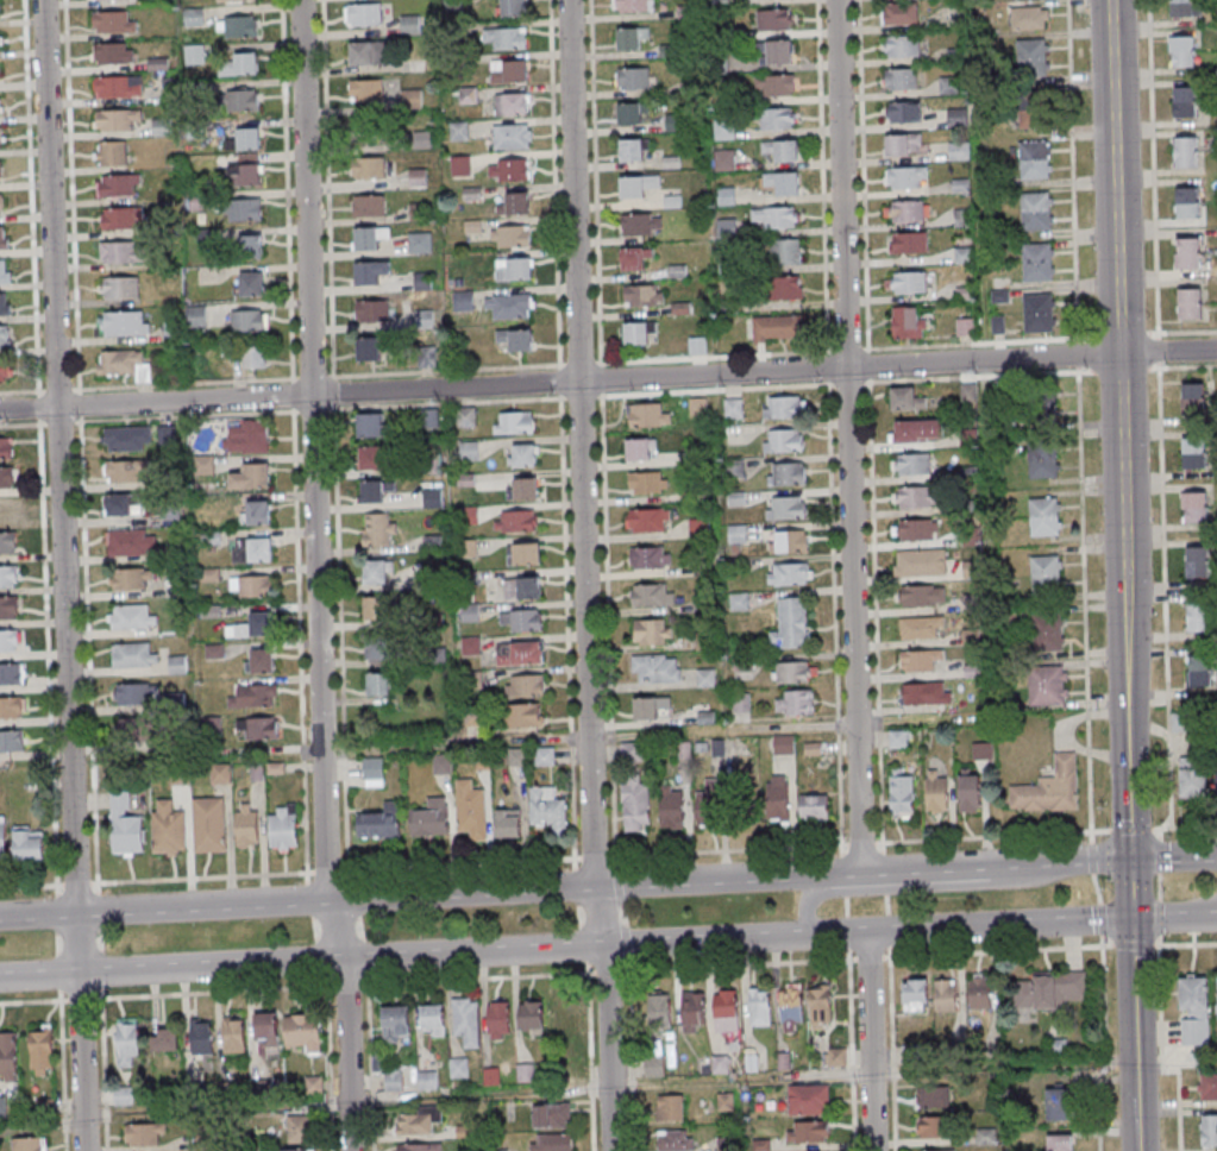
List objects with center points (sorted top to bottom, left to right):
building: (237, 0)
building: (633, 5)
building: (512, 7)
building: (720, 8)
building: (1183, 8)
building: (684, 11)
building: (901, 13)
building: (364, 15)
building: (193, 17)
building: (1029, 19)
building: (774, 20)
building: (114, 21)
building: (409, 25)
building: (238, 27)
building: (504, 38)
building: (631, 38)
building: (0, 40)
building: (902, 46)
building: (1181, 51)
building: (113, 52)
building: (194, 54)
building: (369, 54)
building: (774, 54)
building: (1033, 57)
building: (239, 64)
building: (509, 70)
building: (632, 78)
building: (901, 80)
building: (119, 86)
building: (774, 87)
building: (949, 87)
building: (366, 92)
building: (241, 101)
building: (1185, 102)
building: (512, 103)
building: (0, 106)
building: (1033, 108)
building: (631, 113)
building: (905, 113)
building: (956, 118)
building: (117, 119)
building: (776, 120)
building: (162, 126)
building: (724, 130)
building: (370, 133)
building: (0, 137)
building: (512, 137)
building: (247, 139)
building: (903, 145)
building: (632, 150)
building: (782, 152)
building: (959, 152)
building: (1186, 152)
building: (112, 153)
building: (724, 159)
building: (1035, 159)
building: (462, 165)
building: (369, 168)
building: (509, 169)
road: (1152, 169)
building: (1, 171)
building: (244, 175)
building: (905, 178)
building: (120, 184)
building: (636, 184)
building: (779, 184)
building: (1187, 201)
building: (514, 203)
building: (368, 205)
building: (244, 209)
building: (1036, 210)
building: (908, 212)
building: (123, 218)
building: (774, 219)
building: (641, 224)
building: (368, 237)
building: (514, 237)
building: (4, 238)
building: (419, 243)
building: (908, 244)
building: (250, 246)
building: (121, 251)
building: (784, 253)
building: (1188, 253)
building: (635, 258)
building: (1039, 262)
building: (513, 269)
building: (5, 271)
building: (369, 271)
building: (250, 283)
building: (909, 283)
building: (120, 288)
building: (785, 289)
building: (644, 295)
building: (5, 303)
building: (1190, 303)
building: (509, 306)
building: (371, 310)
building: (1040, 312)
building: (196, 315)
building: (250, 320)
building: (124, 323)
building: (907, 323)
building: (777, 329)
building: (636, 333)
building: (6, 338)
building: (516, 338)
building: (698, 346)
building: (369, 348)
road: (1158, 350)
building: (255, 356)
building: (125, 364)
building: (5, 369)
road: (608, 379)
building: (967, 394)
building: (1193, 398)
building: (907, 400)
building: (697, 407)
building: (784, 408)
building: (733, 409)
building: (1045, 409)
building: (466, 416)
building: (647, 416)
building: (428, 419)
road: (1079, 421)
building: (514, 422)
building: (370, 424)
road: (1117, 430)
building: (918, 432)
building: (246, 435)
road: (847, 436)
building: (127, 439)
building: (783, 440)
building: (6, 448)
building: (640, 448)
building: (469, 451)
building: (1194, 453)
building: (521, 454)
building: (372, 457)
building: (1043, 460)
building: (912, 465)
building: (124, 471)
building: (786, 473)
building: (7, 477)
building: (251, 477)
building: (648, 482)
building: (525, 488)
building: (374, 490)
building: (916, 498)
building: (431, 499)
building: (123, 504)
building: (786, 508)
building: (1196, 508)
building: (8, 509)
building: (256, 511)
building: (1045, 516)
building: (647, 520)
building: (519, 521)
building: (700, 527)
building: (378, 529)
building: (916, 532)
building: (738, 533)
building: (131, 541)
building: (789, 541)
building: (8, 542)
building: (252, 549)
building: (526, 553)
building: (650, 558)
building: (1197, 562)
building: (921, 564)
building: (377, 572)
building: (790, 573)
building: (1047, 573)
building: (8, 575)
road: (62, 575)
road: (318, 575)
road: (588, 575)
building: (132, 578)
building: (251, 586)
building: (522, 589)
building: (652, 593)
road: (1165, 596)
building: (922, 597)
building: (10, 606)
building: (375, 608)
building: (132, 616)
building: (1198, 616)
building: (521, 622)
building: (791, 624)
building: (252, 627)
building: (920, 629)
building: (653, 631)
building: (1049, 631)
building: (971, 637)
building: (8, 641)
building: (703, 642)
building: (470, 647)
building: (379, 648)
building: (134, 654)
building: (520, 655)
building: (261, 660)
building: (920, 661)
building: (176, 663)
building: (655, 668)
building: (1199, 669)
building: (792, 672)
building: (12, 674)
building: (705, 678)
building: (378, 683)
building: (1048, 686)
building: (525, 687)
building: (136, 693)
building: (926, 694)
building: (255, 696)
building: (175, 699)
building: (795, 702)
building: (740, 703)
building: (12, 707)
building: (648, 707)
building: (522, 717)
building: (258, 728)
building: (138, 731)
road: (589, 737)
building: (898, 740)
building: (12, 741)
building: (784, 744)
building: (983, 751)
building: (516, 757)
building: (544, 757)
building: (441, 766)
building: (220, 774)
building: (1193, 778)
building: (1216, 782)
building: (1049, 788)
building: (901, 792)
building: (936, 793)
building: (968, 793)
building: (772, 798)
building: (709, 804)
building: (635, 805)
building: (671, 806)
building: (814, 807)
building: (547, 810)
building: (471, 812)
building: (431, 818)
building: (379, 823)
building: (508, 824)
building: (209, 825)
building: (245, 825)
building: (124, 826)
road: (1184, 826)
building: (283, 828)
building: (168, 829)
road: (1159, 832)
building: (4, 839)
building: (29, 843)
road: (1159, 855)
road: (1092, 858)
road: (1173, 858)
traffic signals: (1130, 861)
road: (1058, 863)
road: (924, 869)
road: (1159, 886)
road: (814, 888)
road: (1096, 889)
road: (1130, 891)
road: (429, 893)
road: (1099, 918)
road: (1158, 918)
road: (1174, 919)
traffic signals: (1131, 920)
road: (997, 926)
road: (1133, 944)
road: (1185, 944)
road: (997, 950)
road: (432, 955)
road: (868, 957)
road: (740, 963)
road: (608, 969)
road: (477, 977)
road: (347, 983)
road: (214, 989)
building: (1052, 990)
building: (979, 992)
building: (915, 996)
building: (945, 996)
road: (79, 998)
road: (31, 1001)
building: (759, 1008)
building: (659, 1010)
building: (820, 1010)
building: (694, 1011)
building: (1194, 1011)
building: (726, 1012)
building: (790, 1012)
building: (563, 1014)
building: (531, 1015)
building: (432, 1020)
building: (498, 1020)
building: (466, 1023)
building: (395, 1025)
building: (265, 1029)
building: (303, 1032)
building: (233, 1034)
road: (1134, 1034)
building: (201, 1037)
building: (164, 1039)
building: (127, 1040)
road: (870, 1042)
road: (1097, 1042)
road: (892, 1048)
road: (851, 1049)
building: (40, 1051)
road: (1160, 1051)
road: (632, 1053)
road: (590, 1055)
building: (8, 1056)
building: (835, 1057)
road: (328, 1062)
road: (369, 1063)
building: (720, 1065)
building: (654, 1067)
road: (105, 1068)
building: (459, 1069)
road: (61, 1071)
road: (793, 1077)
building: (393, 1080)
building: (426, 1081)
building: (314, 1086)
building: (1207, 1088)
building: (121, 1095)
building: (933, 1096)
building: (808, 1100)
building: (1059, 1101)
building: (1, 1108)
building: (43, 1108)
building: (670, 1108)
building: (552, 1114)
building: (419, 1121)
building: (934, 1126)
building: (300, 1130)
building: (465, 1131)
building: (1209, 1131)
building: (808, 1132)
building: (143, 1133)
building: (676, 1140)
building: (551, 1141)
building: (1062, 1143)
building: (27, 1144)
building: (419, 1146)
building: (294, 1150)
building: (935, 1150)

